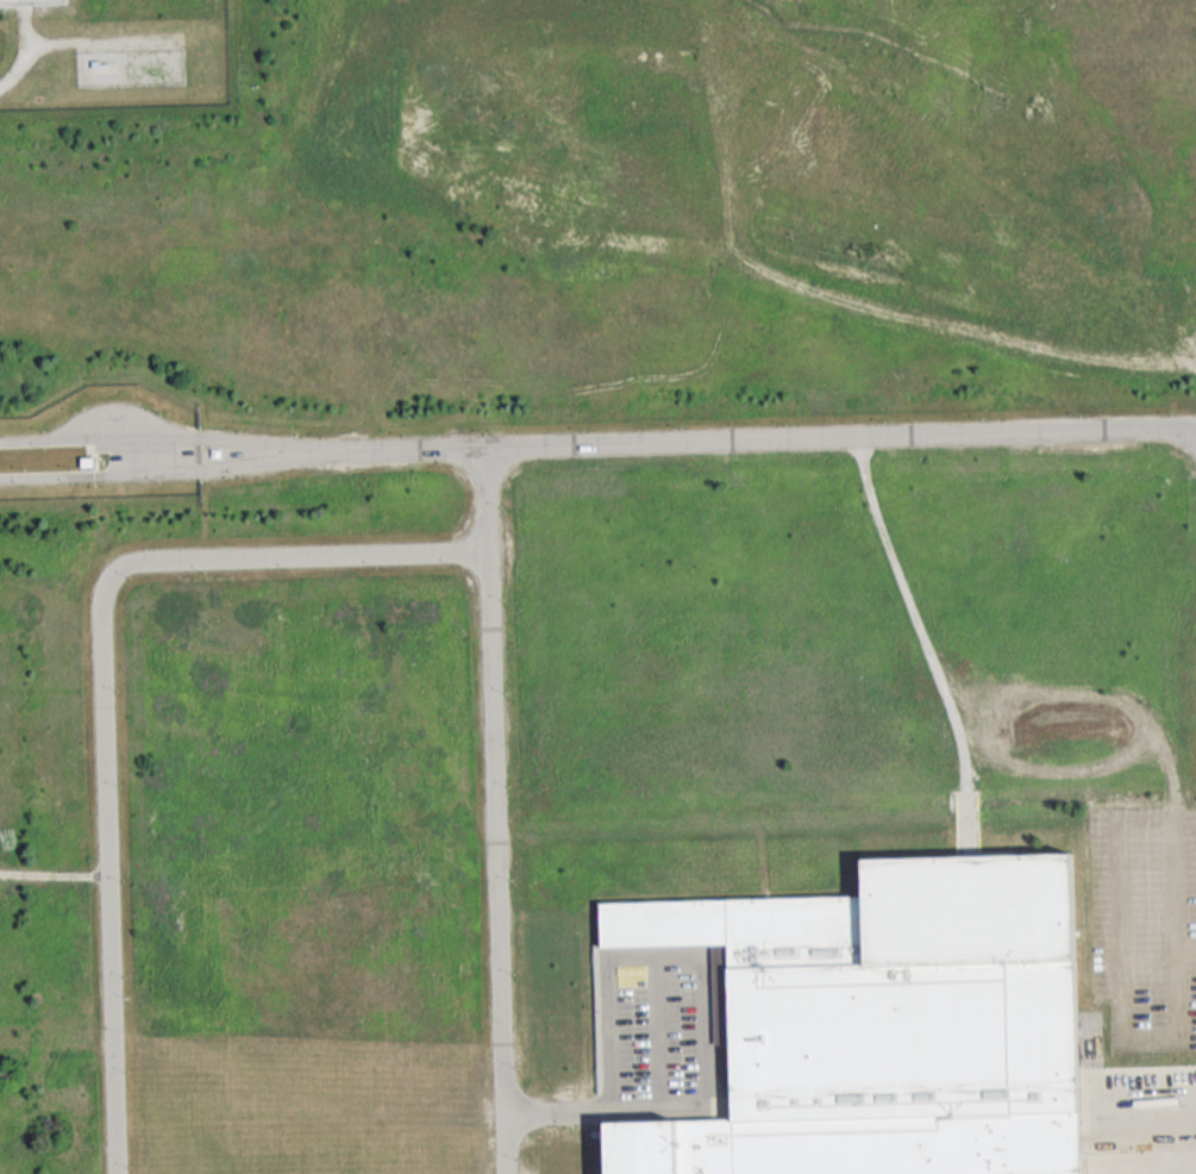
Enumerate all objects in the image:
power substation: (33, 2)
road: (108, 44)
road: (134, 50)
road: (31, 56)
road: (168, 435)
road: (839, 435)
road: (409, 447)
road: (168, 470)
road: (486, 498)
road: (102, 682)
road: (495, 862)
road: (1117, 904)
road: (1186, 947)
road: (703, 1008)
building: (883, 1023)
road: (657, 1031)
road: (1147, 1103)

